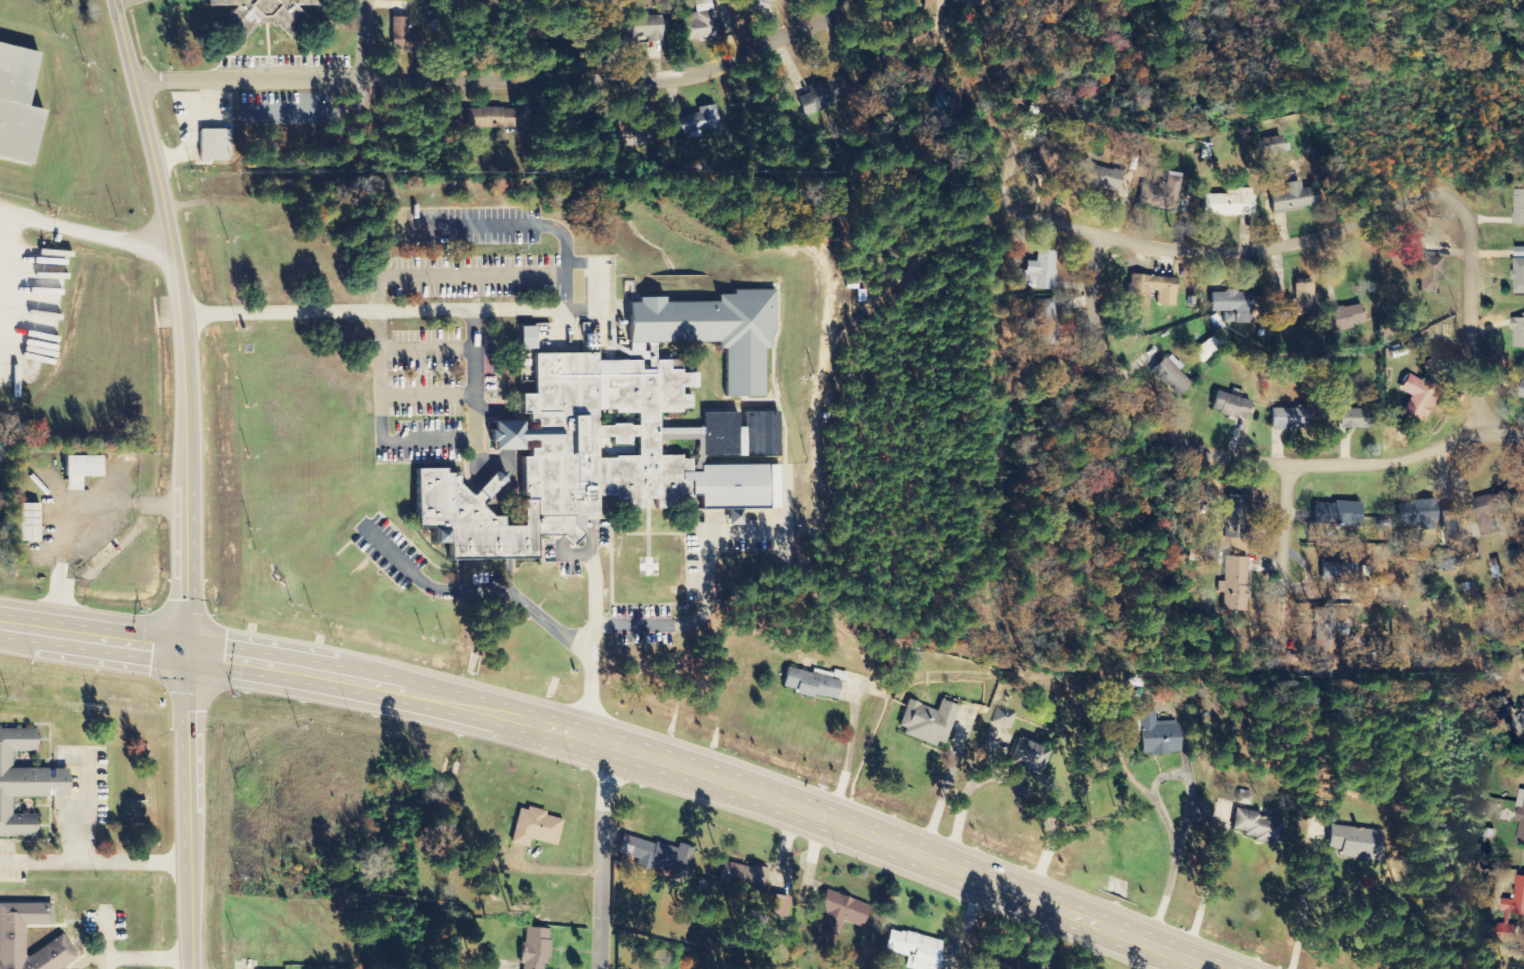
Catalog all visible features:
building: (978, 2)
building: (758, 3)
building: (294, 20)
building: (699, 22)
building: (642, 28)
building: (401, 37)
road: (365, 39)
road: (496, 79)
building: (824, 94)
building: (17, 103)
building: (488, 118)
building: (694, 123)
building: (1029, 127)
building: (213, 145)
building: (1270, 145)
building: (1205, 151)
building: (1097, 175)
building: (1160, 193)
building: (1292, 198)
building: (1227, 203)
building: (1518, 206)
road: (522, 226)
road: (84, 232)
road: (1220, 251)
building: (1518, 270)
building: (1040, 271)
building: (1427, 275)
building: (1136, 298)
building: (1300, 302)
building: (1232, 304)
road: (371, 310)
road: (1467, 312)
building: (1347, 316)
road: (378, 320)
building: (1043, 321)
building: (1518, 332)
building: (526, 337)
building: (1206, 348)
road: (430, 349)
building: (1169, 375)
building: (1522, 390)
road: (431, 395)
road: (483, 395)
building: (1415, 398)
building: (1228, 406)
building: (1352, 416)
building: (1287, 418)
building: (629, 427)
road: (499, 449)
road: (515, 450)
road: (1232, 458)
building: (76, 470)
road: (184, 480)
building: (1490, 510)
building: (1415, 513)
building: (1334, 514)
building: (1234, 516)
building: (25, 522)
building: (1445, 560)
helipad: (648, 567)
road: (1284, 569)
building: (1337, 573)
building: (1365, 581)
building: (1231, 587)
road: (475, 588)
road: (593, 594)
road: (690, 622)
building: (1324, 633)
building: (1353, 646)
traffic signals: (187, 652)
building: (812, 683)
building: (1522, 700)
building: (926, 722)
building: (1001, 726)
building: (1157, 735)
road: (618, 746)
building: (1026, 756)
building: (23, 783)
building: (1244, 798)
road: (86, 805)
building: (1520, 818)
building: (534, 827)
building: (1256, 827)
building: (1353, 842)
road: (602, 856)
building: (655, 856)
road: (95, 859)
building: (742, 879)
building: (1515, 899)
building: (838, 912)
road: (103, 932)
building: (55, 945)
building: (534, 948)
building: (911, 949)
road: (147, 956)
road: (92, 958)

